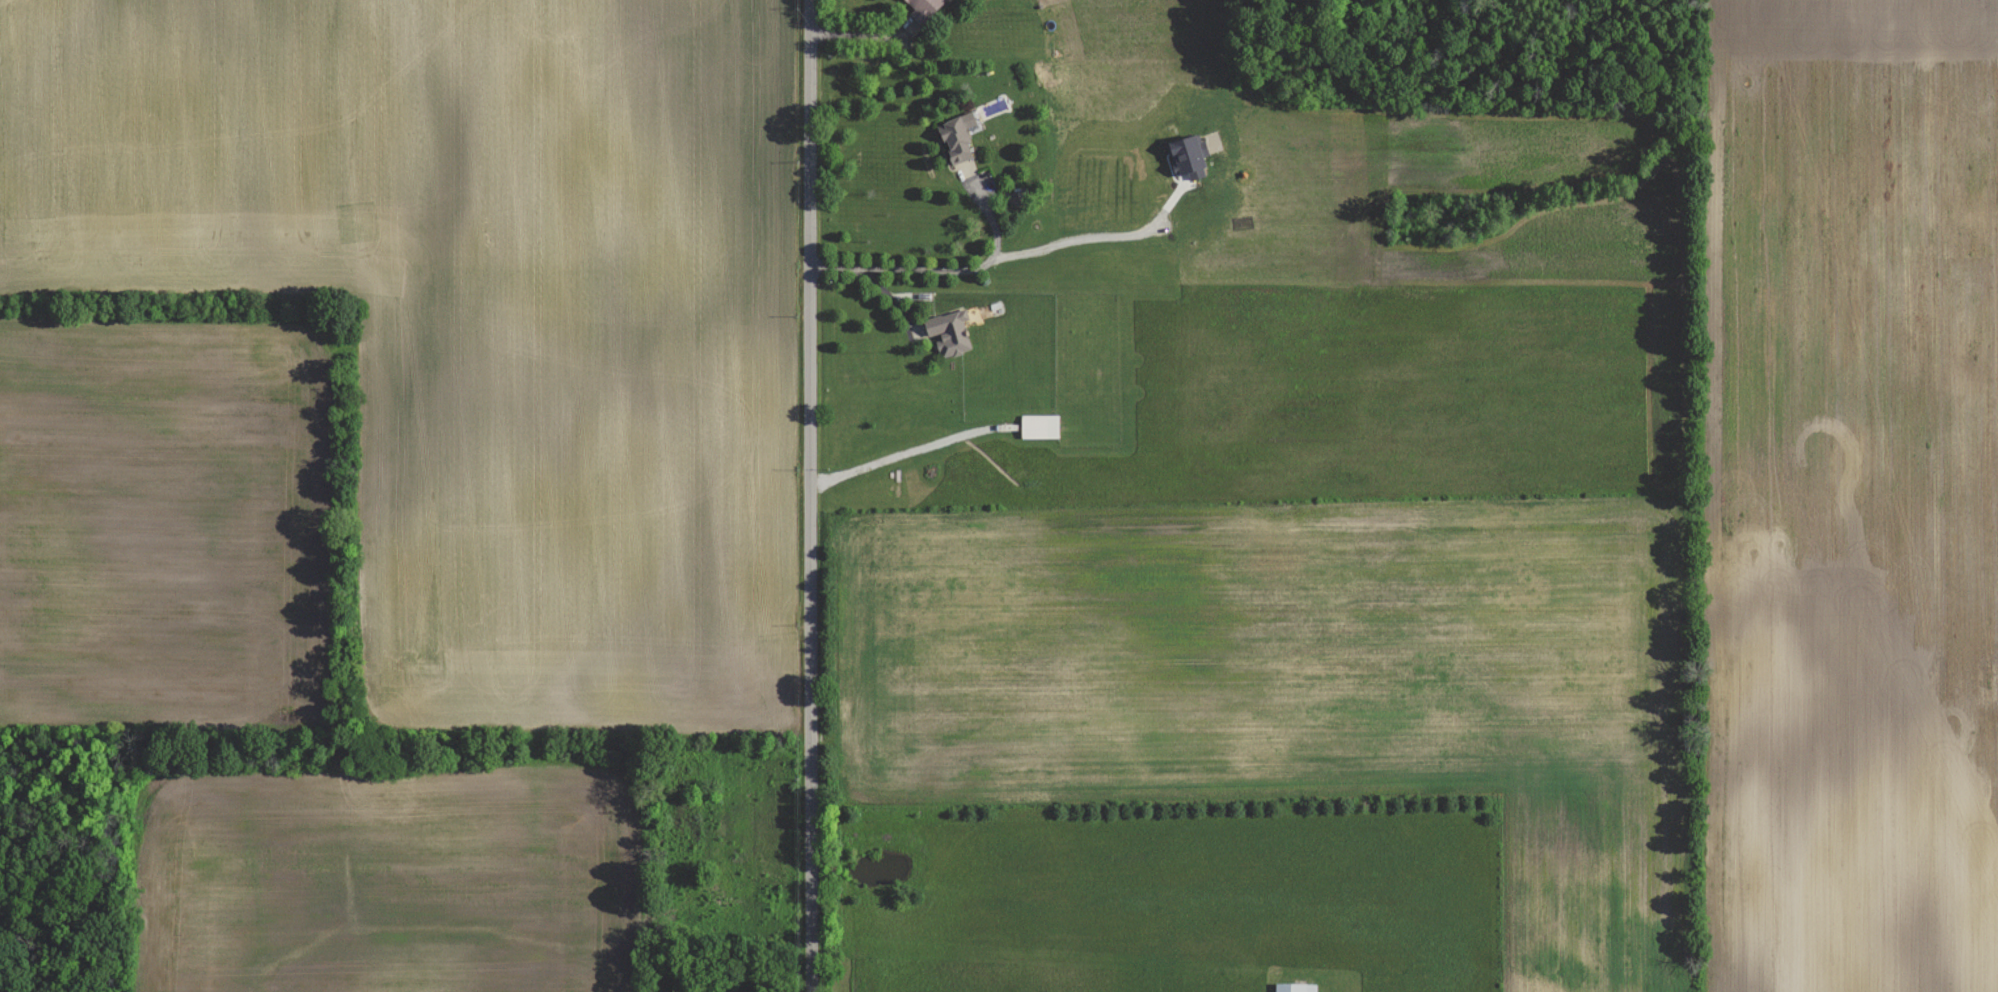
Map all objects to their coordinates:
building: (924, 9)
road: (865, 35)
building: (958, 137)
building: (1187, 157)
road: (1092, 238)
road: (938, 271)
building: (918, 331)
building: (950, 332)
building: (1040, 426)
road: (897, 455)
road: (810, 495)
building: (1295, 987)

